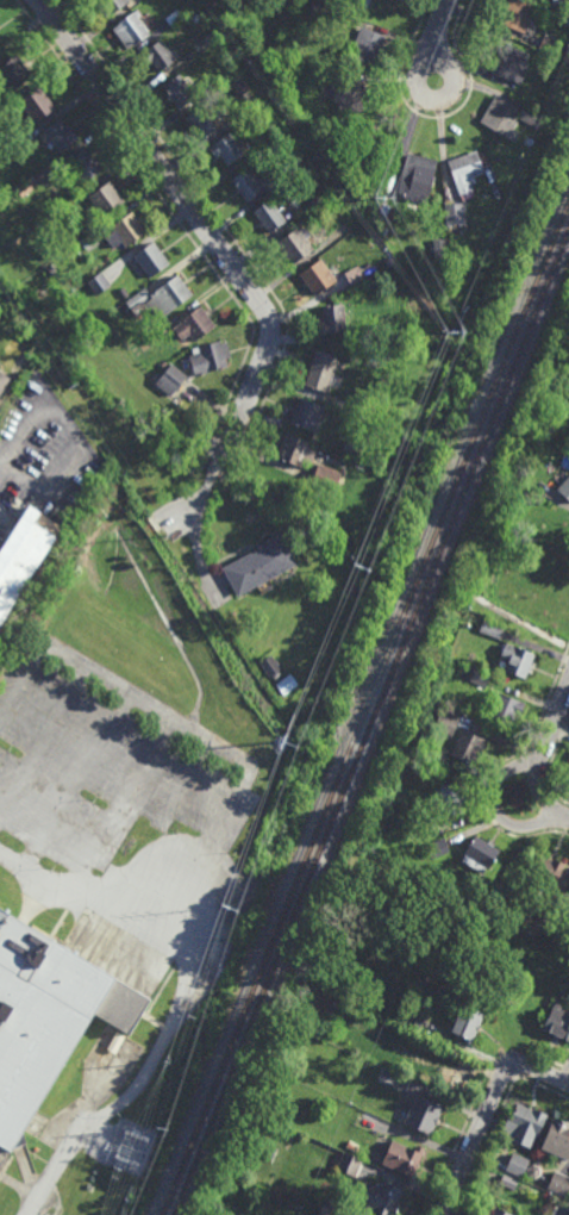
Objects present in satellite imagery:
building: (394, 0)
building: (400, 0)
building: (230, 1)
building: (345, 2)
building: (559, 2)
building: (213, 4)
building: (108, 6)
building: (190, 6)
building: (568, 8)
building: (320, 11)
building: (557, 11)
building: (338, 12)
building: (517, 14)
building: (173, 18)
building: (196, 18)
building: (565, 20)
road: (439, 30)
building: (129, 31)
building: (0, 36)
building: (201, 46)
building: (367, 46)
building: (552, 46)
building: (157, 57)
building: (265, 58)
building: (513, 66)
building: (265, 69)
building: (13, 75)
road: (415, 75)
building: (210, 86)
building: (238, 86)
building: (179, 93)
building: (346, 99)
building: (543, 101)
building: (36, 106)
building: (529, 114)
road: (436, 118)
building: (505, 119)
building: (201, 124)
building: (237, 124)
building: (270, 136)
building: (57, 138)
building: (529, 141)
building: (374, 147)
building: (14, 149)
building: (226, 152)
building: (82, 164)
building: (417, 170)
building: (465, 172)
building: (248, 183)
building: (25, 188)
building: (106, 197)
building: (315, 200)
road: (205, 201)
building: (384, 210)
building: (455, 213)
building: (56, 214)
road: (171, 214)
building: (270, 214)
road: (200, 220)
building: (363, 225)
building: (455, 226)
building: (125, 229)
building: (383, 229)
building: (338, 235)
building: (390, 236)
building: (87, 238)
building: (296, 244)
building: (439, 251)
building: (151, 257)
building: (365, 266)
building: (355, 274)
building: (318, 276)
building: (99, 282)
building: (124, 293)
building: (162, 295)
building: (445, 316)
building: (333, 319)
building: (194, 324)
power tower: (446, 331)
building: (157, 335)
building: (363, 336)
building: (210, 357)
building: (164, 362)
building: (321, 369)
building: (171, 380)
building: (2, 381)
road: (15, 384)
building: (344, 404)
building: (558, 406)
building: (309, 415)
road: (73, 436)
road: (210, 445)
building: (352, 448)
building: (296, 450)
road: (1, 465)
road: (217, 469)
building: (326, 478)
road: (208, 485)
building: (565, 487)
building: (20, 557)
building: (261, 566)
power tower: (359, 569)
park: (531, 572)
road: (495, 580)
building: (490, 630)
building: (518, 660)
building: (271, 668)
building: (480, 678)
building: (286, 684)
railway: (364, 708)
building: (505, 710)
road: (554, 717)
railway: (368, 721)
building: (446, 722)
power tower: (296, 737)
road: (43, 739)
building: (469, 747)
road: (548, 764)
road: (498, 765)
road: (77, 781)
road: (238, 791)
road: (542, 791)
road: (117, 802)
building: (451, 802)
road: (496, 809)
building: (438, 849)
building: (480, 855)
building: (549, 872)
building: (482, 896)
power tower: (227, 909)
building: (546, 916)
building: (337, 1002)
building: (46, 1014)
building: (413, 1020)
building: (467, 1020)
building: (557, 1021)
road: (140, 1083)
road: (486, 1111)
building: (424, 1113)
building: (524, 1122)
power tower: (156, 1129)
building: (557, 1136)
building: (351, 1145)
power substation: (124, 1146)
building: (37, 1148)
building: (402, 1155)
building: (349, 1164)
building: (518, 1164)
building: (533, 1170)
building: (508, 1180)
building: (559, 1182)
building: (380, 1196)
building: (332, 1207)
building: (498, 1211)
building: (482, 1214)

